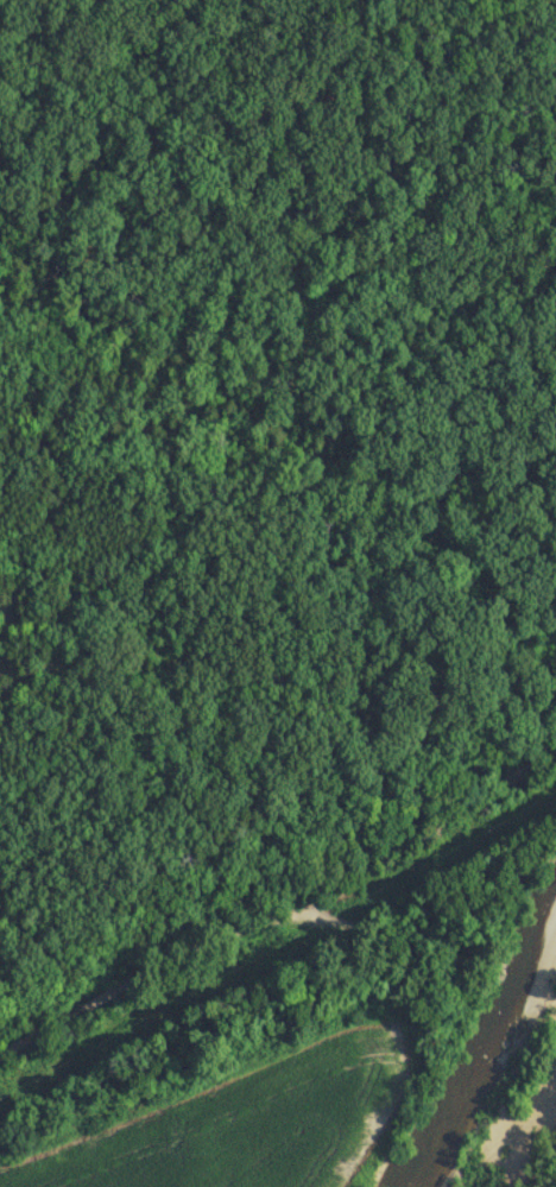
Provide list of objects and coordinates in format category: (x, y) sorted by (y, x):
road: (432, 825)
road: (234, 929)
river: (480, 1042)

